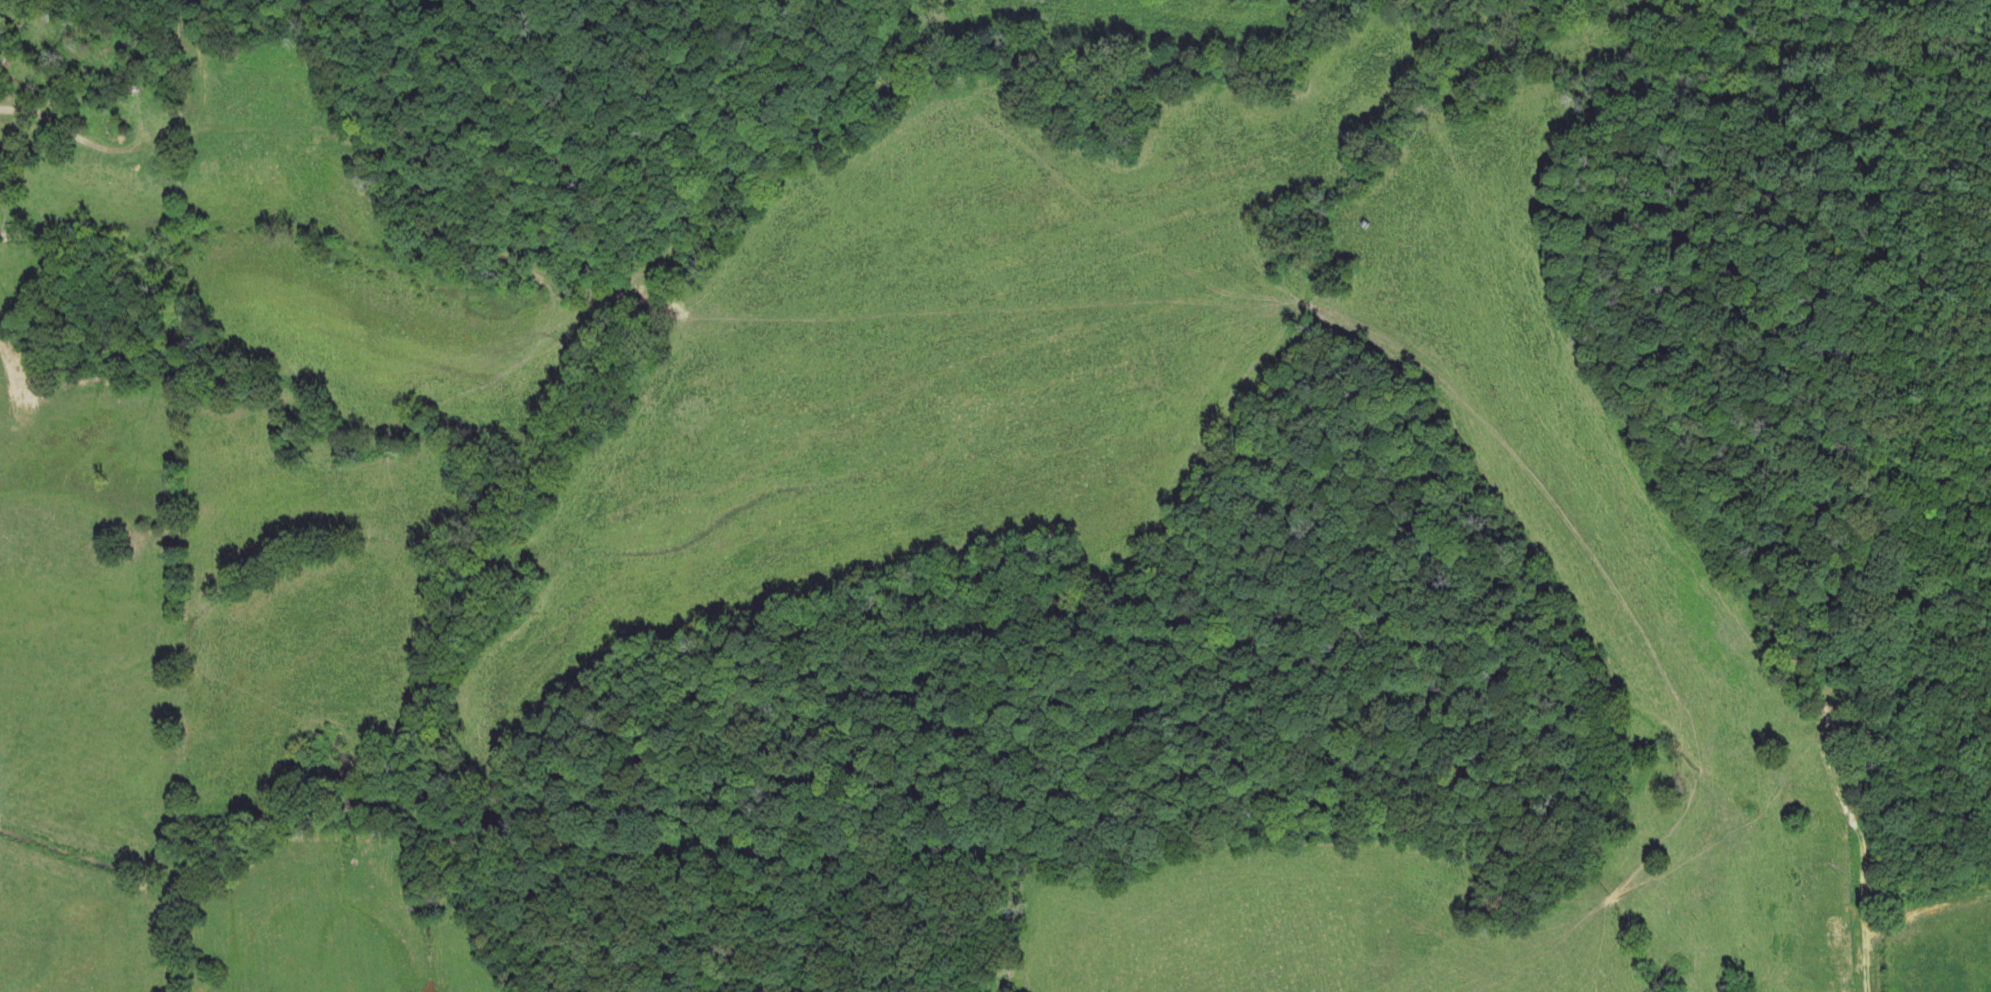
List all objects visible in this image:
road: (1938, 945)
building: (1840, 946)

